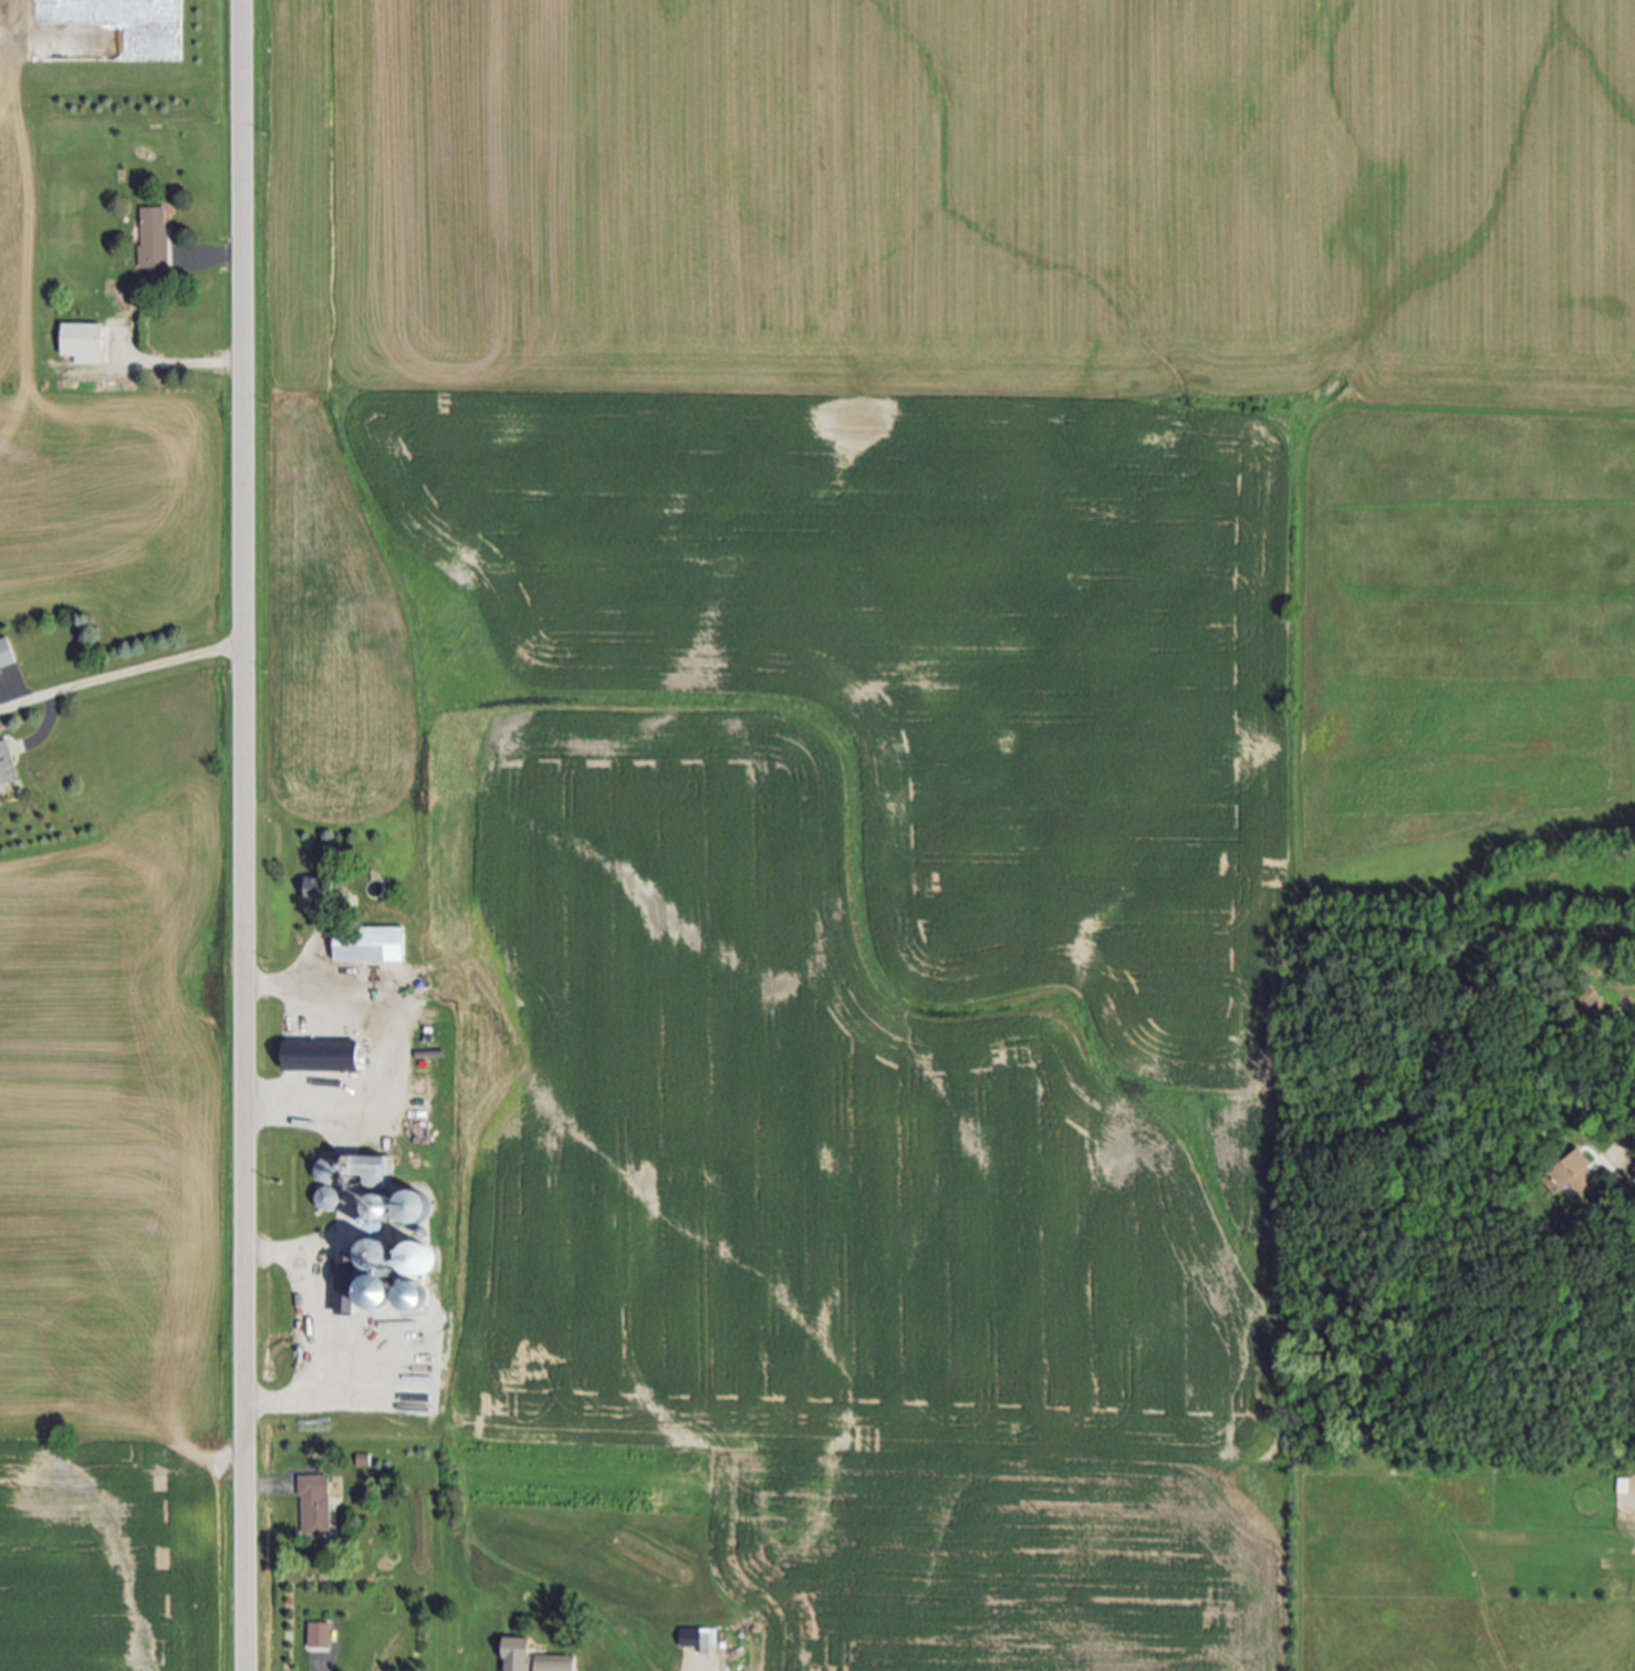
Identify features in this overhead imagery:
building: (154, 238)
road: (216, 261)
building: (83, 344)
road: (184, 364)
crop: (100, 466)
building: (7, 655)
road: (121, 676)
building: (7, 767)
road: (243, 835)
building: (320, 894)
building: (371, 946)
road: (311, 990)
building: (323, 1058)
road: (306, 1103)
road: (1629, 1138)
building: (323, 1167)
building: (368, 1169)
building: (1574, 1169)
building: (327, 1197)
building: (413, 1203)
building: (373, 1205)
crop: (122, 1214)
road: (282, 1252)
building: (376, 1256)
building: (417, 1264)
road: (324, 1369)
building: (1624, 1486)
road: (268, 1487)
building: (316, 1506)
building: (317, 1638)
building: (698, 1639)
building: (519, 1656)
building: (558, 1664)

